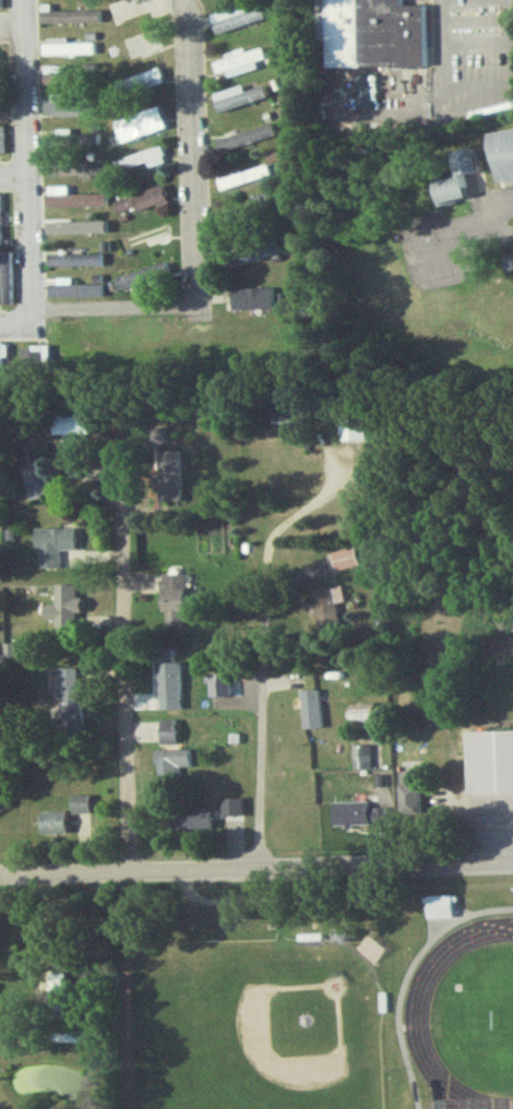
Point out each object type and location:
building: (213, 0)
building: (1, 7)
building: (133, 11)
building: (70, 22)
building: (236, 23)
road: (11, 29)
building: (380, 34)
building: (140, 49)
building: (69, 53)
building: (238, 68)
building: (52, 81)
building: (143, 87)
building: (237, 103)
building: (65, 111)
building: (139, 130)
building: (1, 145)
building: (76, 145)
road: (25, 155)
building: (501, 160)
road: (191, 163)
building: (139, 166)
building: (90, 176)
road: (13, 179)
building: (242, 181)
building: (454, 183)
building: (90, 205)
building: (0, 225)
road: (488, 229)
building: (73, 234)
building: (141, 243)
building: (252, 255)
building: (73, 265)
building: (508, 266)
building: (142, 282)
building: (5, 283)
building: (71, 295)
building: (251, 305)
road: (81, 308)
building: (33, 361)
building: (2, 368)
building: (288, 422)
building: (70, 429)
building: (350, 431)
building: (51, 551)
building: (343, 564)
building: (171, 607)
building: (325, 611)
building: (64, 612)
road: (121, 665)
building: (167, 691)
building: (69, 703)
building: (310, 714)
road: (263, 718)
building: (359, 718)
building: (167, 737)
building: (362, 761)
building: (488, 767)
building: (171, 768)
building: (407, 799)
building: (81, 809)
building: (230, 813)
building: (347, 820)
building: (190, 824)
building: (53, 827)
road: (502, 830)
road: (255, 871)
building: (436, 913)
building: (58, 1005)
track: (416, 1010)
park: (501, 1023)
park: (242, 1028)
building: (64, 1038)

